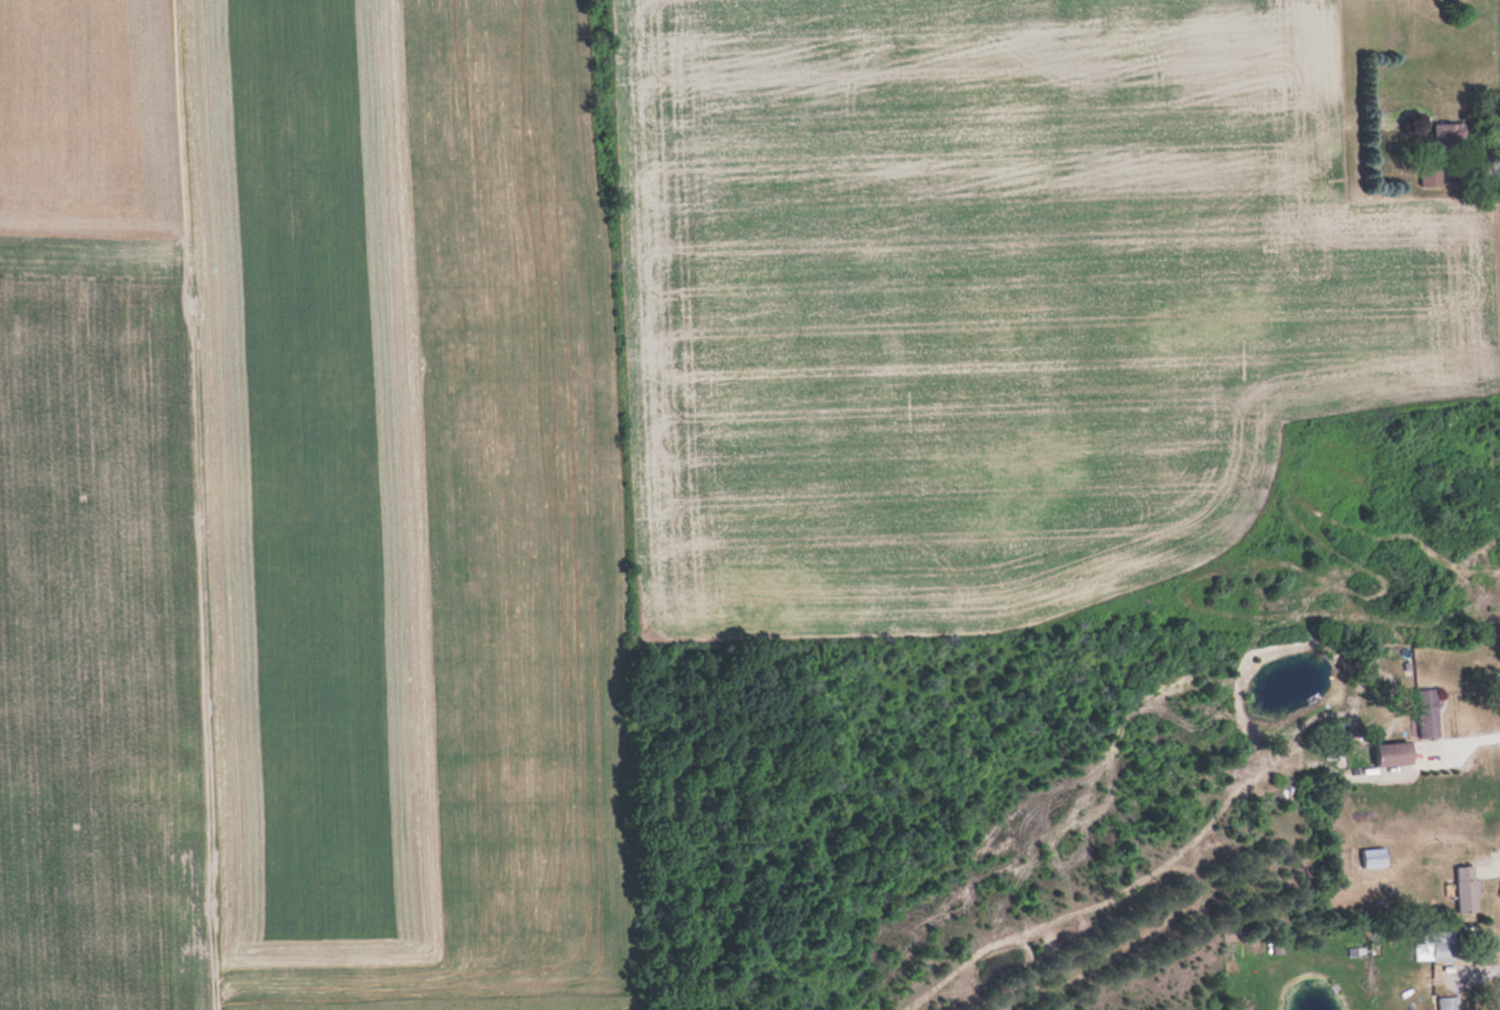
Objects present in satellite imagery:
building: (1449, 132)
building: (1432, 173)
building: (1428, 713)
building: (1395, 754)
building: (1374, 857)
building: (1467, 888)
building: (1444, 951)
building: (1449, 1003)

